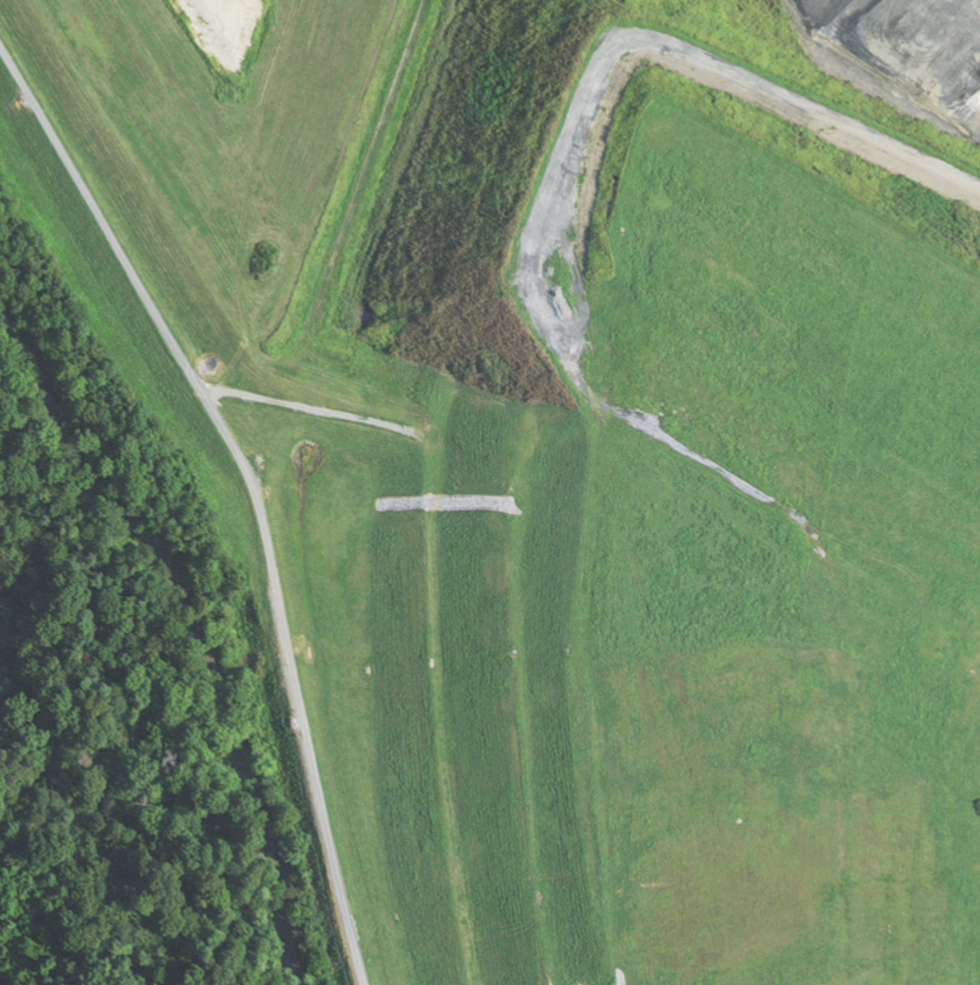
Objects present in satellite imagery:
road: (253, 492)

